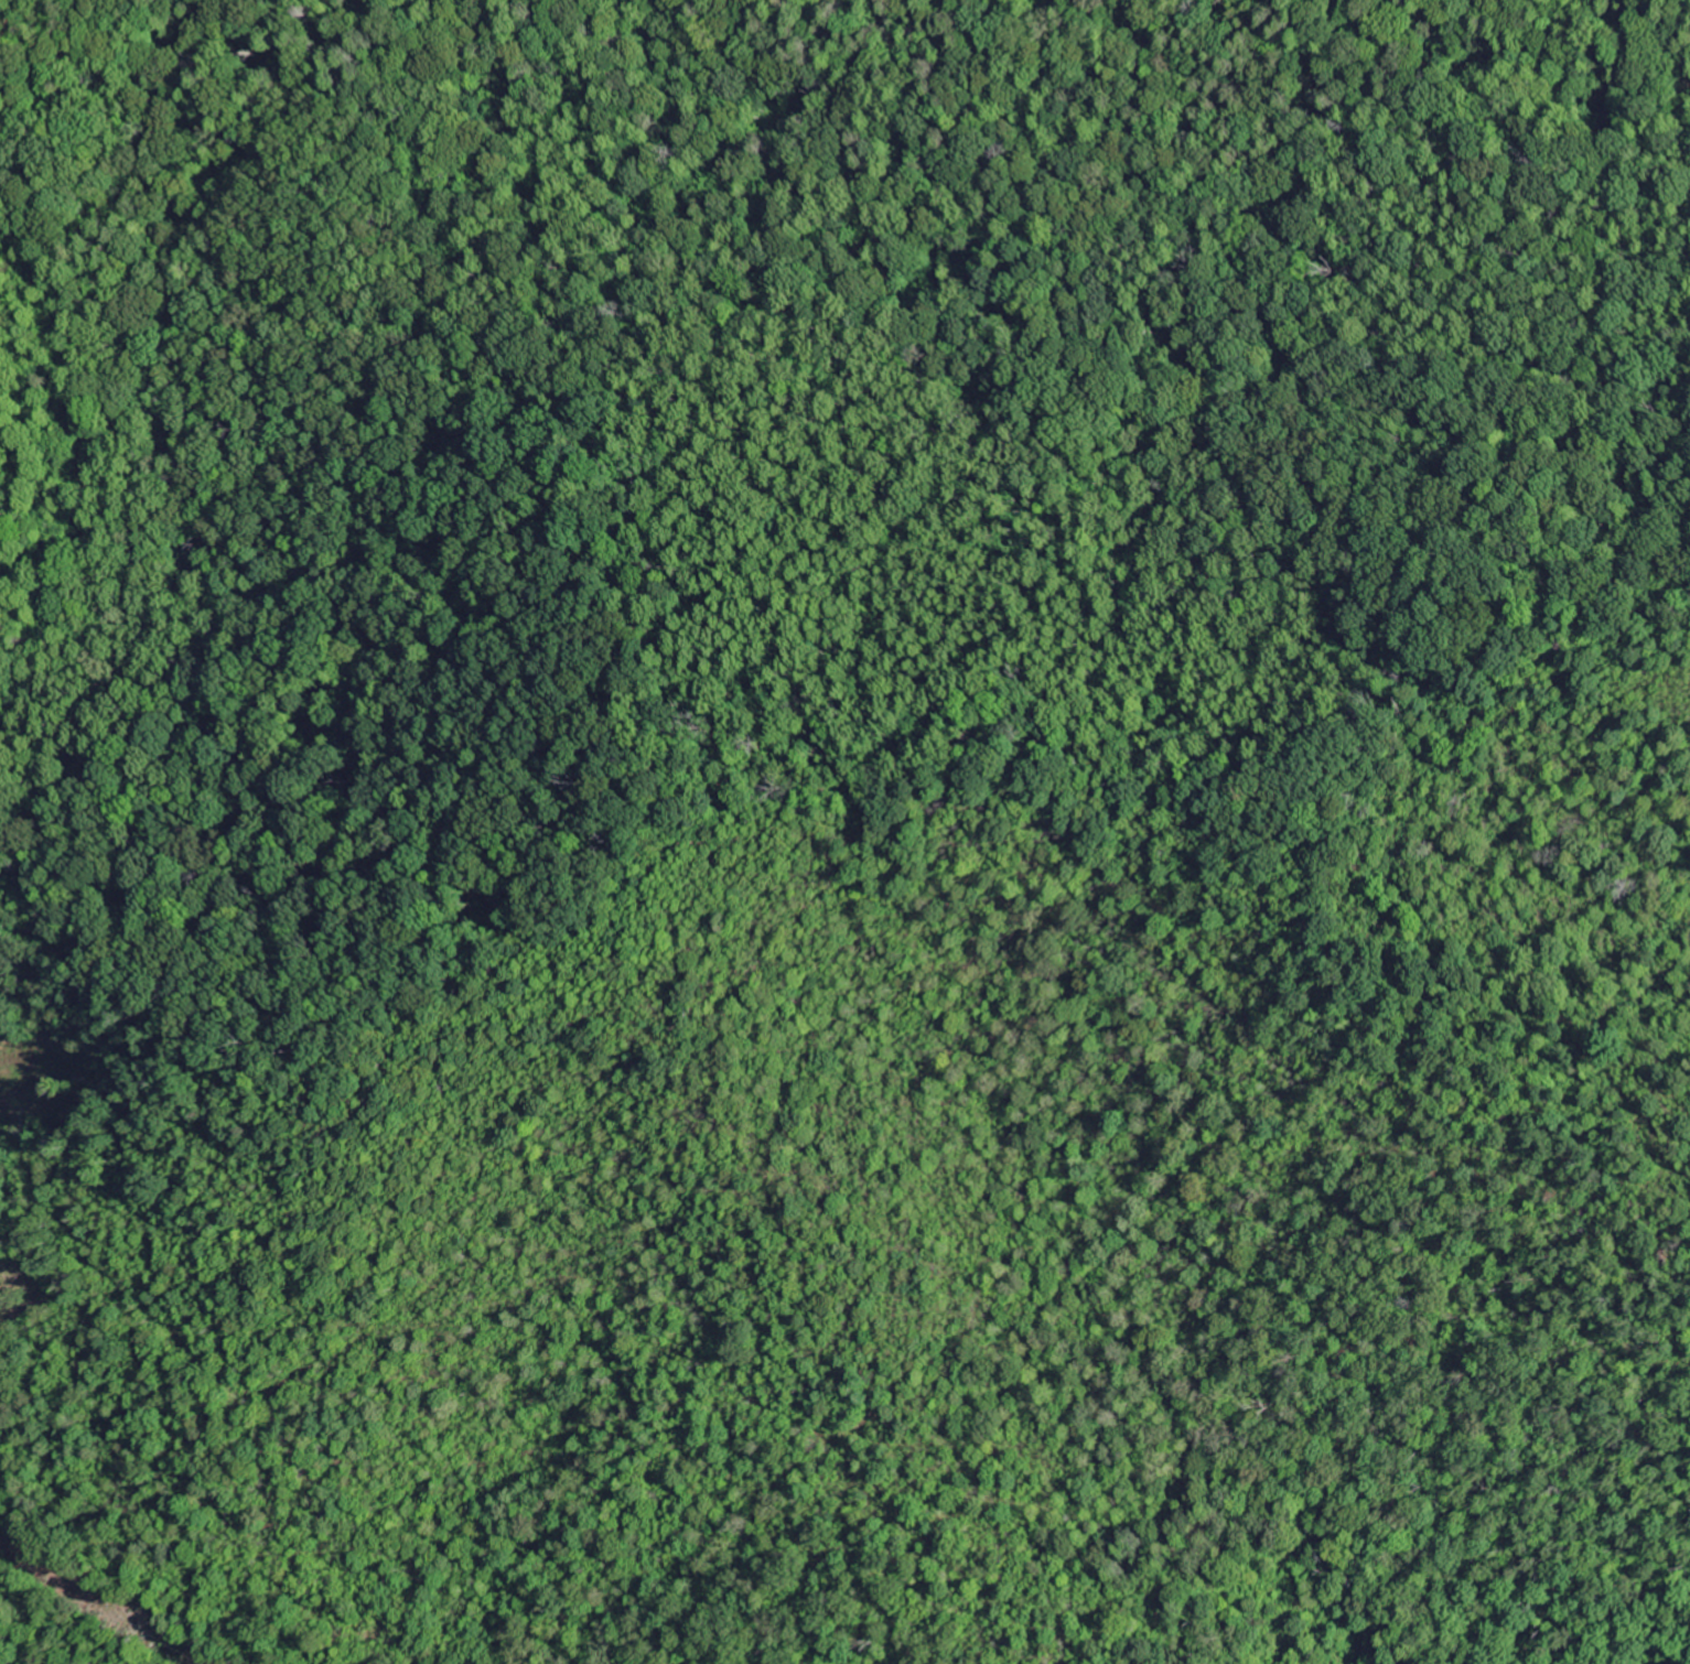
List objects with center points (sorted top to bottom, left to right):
park: (18, 1297)

